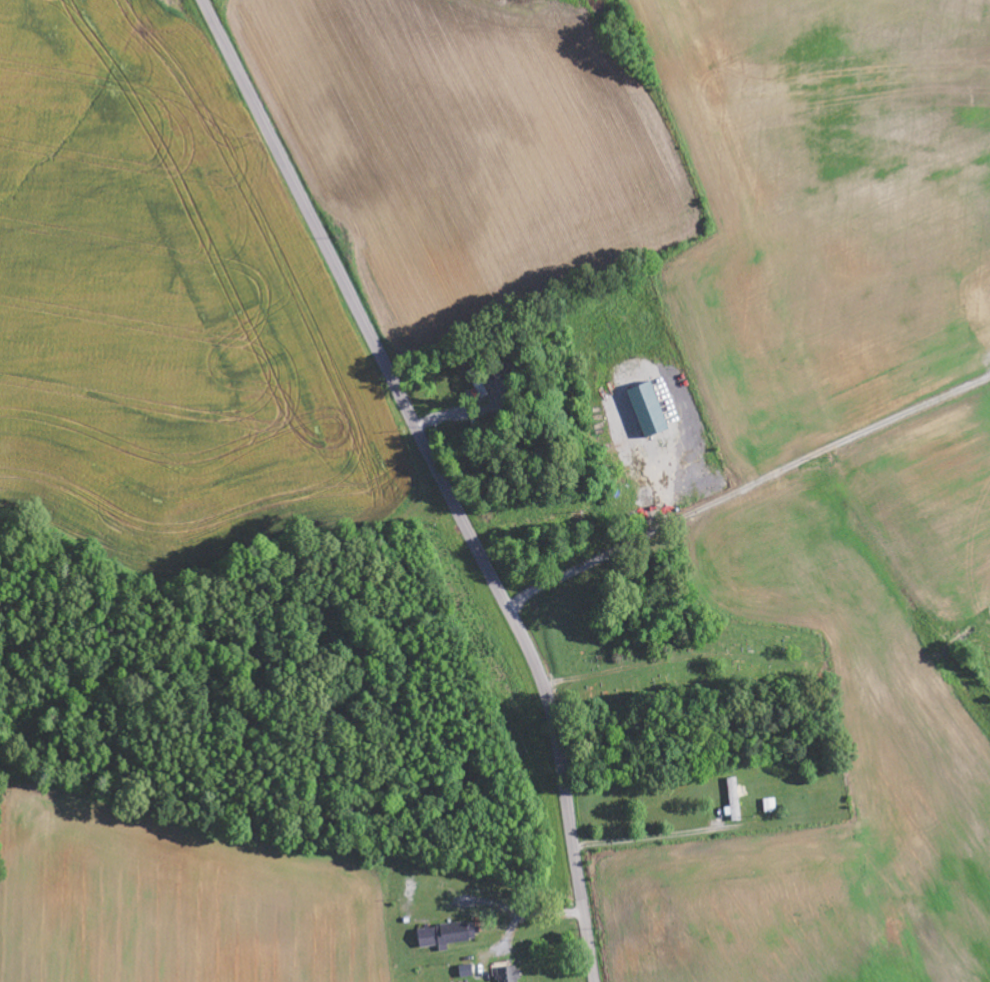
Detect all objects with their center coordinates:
building: (648, 410)
road: (442, 477)
building: (734, 801)
building: (770, 806)
building: (897, 935)
building: (446, 936)
building: (509, 975)

